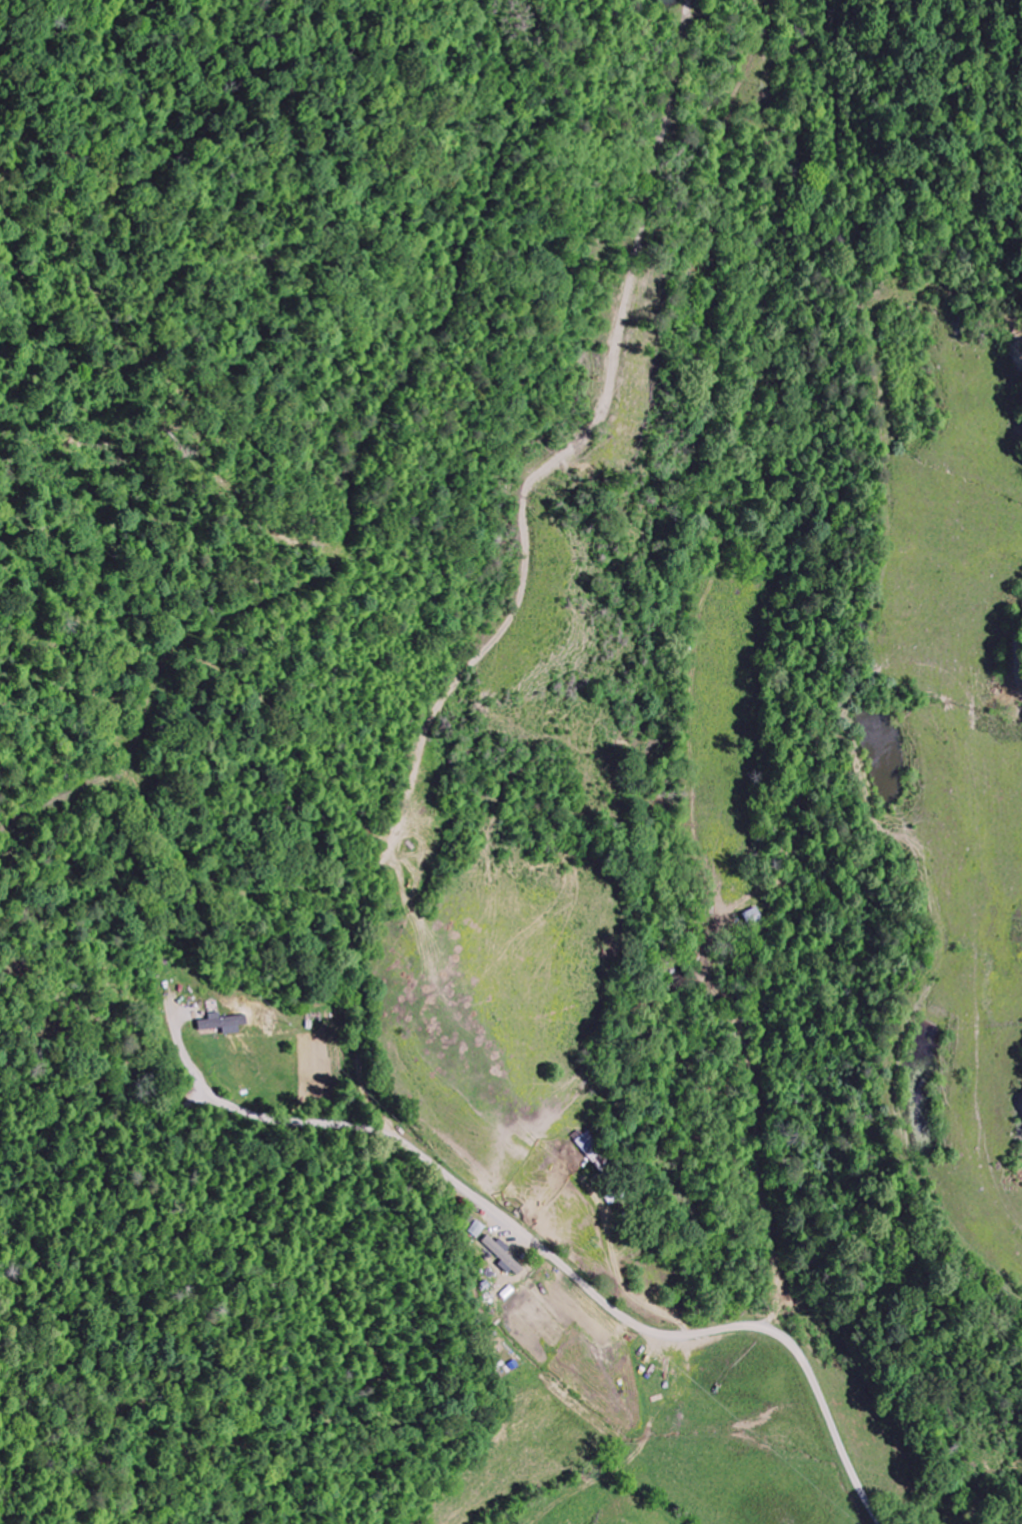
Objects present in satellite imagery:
road: (536, 539)
building: (753, 918)
building: (226, 1024)
building: (593, 1151)
building: (479, 1230)
building: (506, 1257)
road: (652, 1331)

